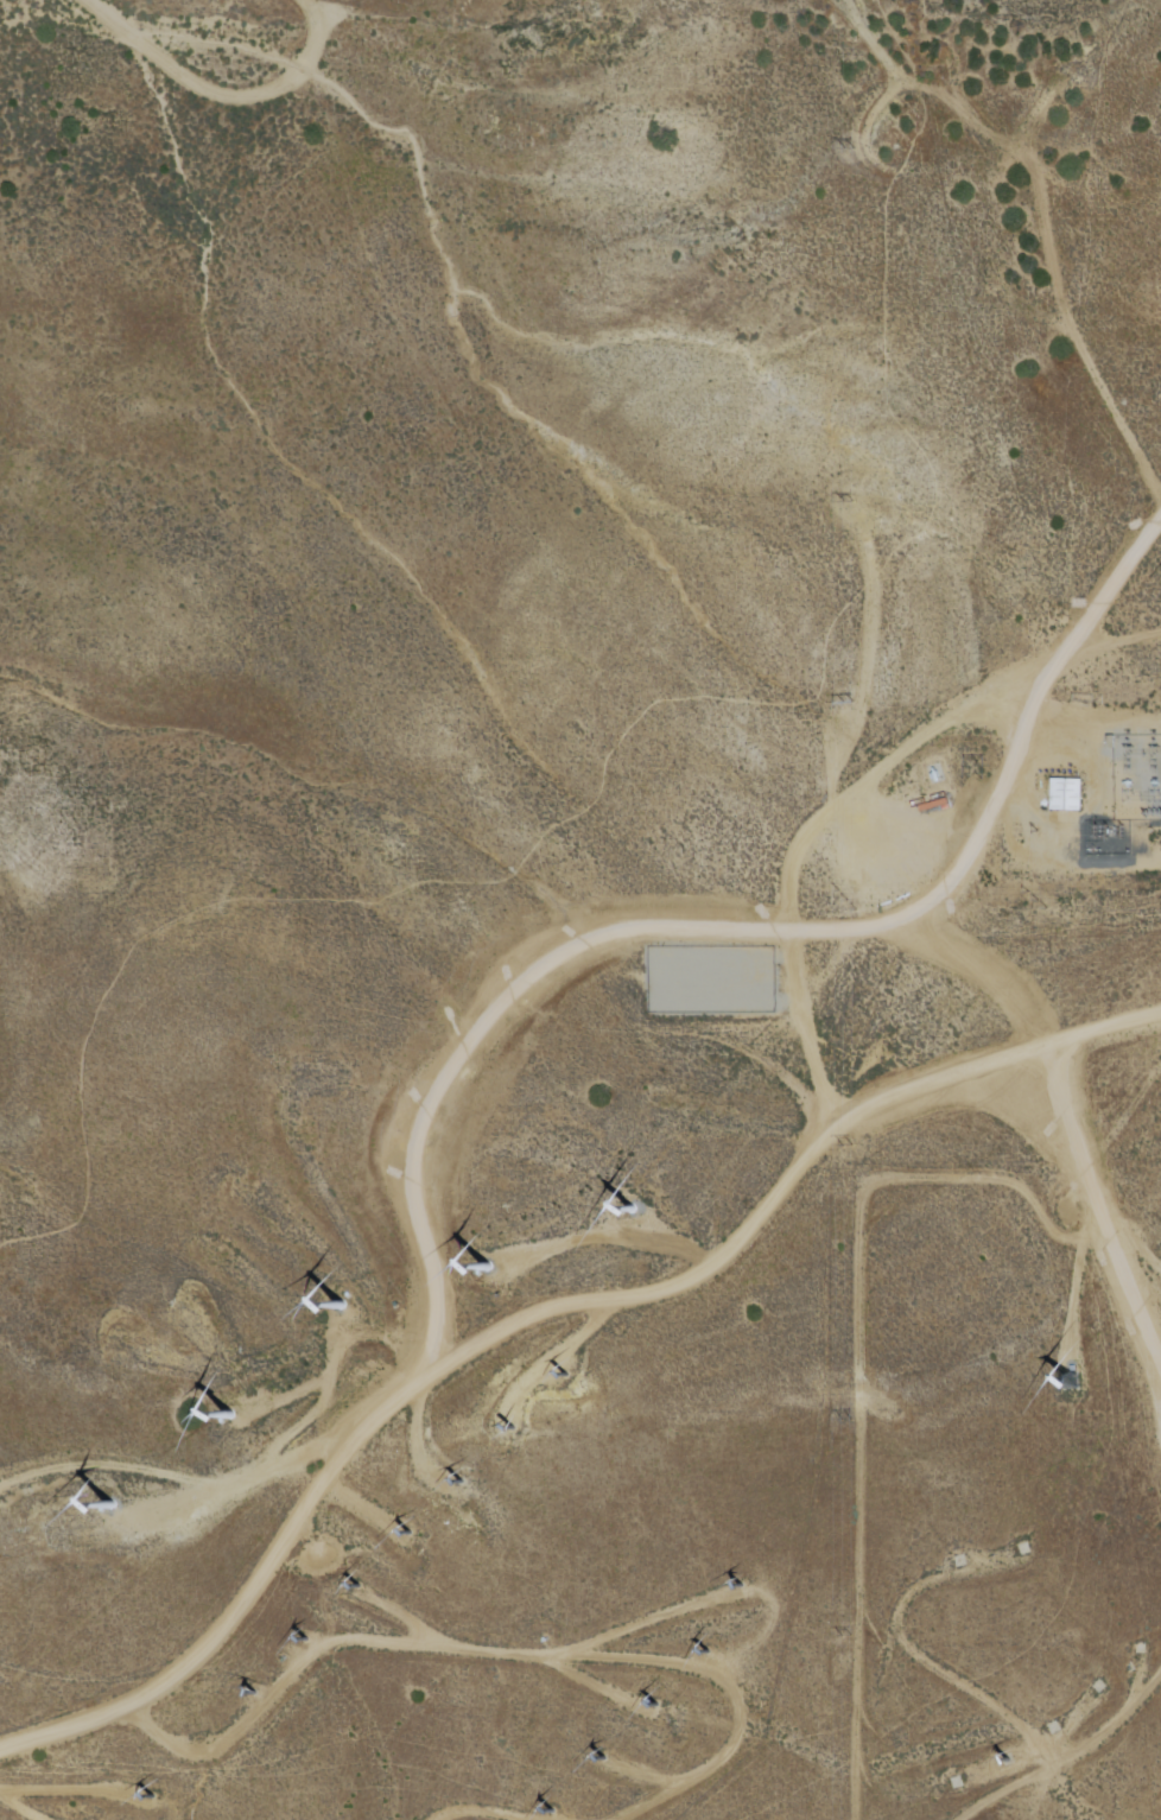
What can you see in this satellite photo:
road: (868, 129)
road: (1045, 213)
road: (634, 722)
building: (1064, 795)
power substation: (1129, 795)
road: (632, 918)
power substation: (711, 978)
building: (696, 979)
building: (696, 994)
wind turbine: (628, 1215)
road: (730, 1238)
wind turbine: (486, 1270)
wind turbine: (338, 1306)
wind turbine: (569, 1377)
wind turbine: (1068, 1382)
wind turbine: (230, 1413)
wind turbine: (520, 1429)
road: (171, 1479)
wind turbine: (457, 1483)
wind turbine: (110, 1504)
wind turbine: (411, 1532)
wind turbine: (742, 1586)
wind turbine: (355, 1588)
wind turbine: (306, 1641)
wind turbine: (712, 1653)
road: (496, 1654)
wind turbine: (247, 1694)
wind turbine: (653, 1708)
wind turbine: (196, 1745)
wind turbine: (602, 1761)
wind turbine: (1003, 1764)
wind turbine: (145, 1800)
wind turbine: (552, 1811)
road: (493, 1816)

